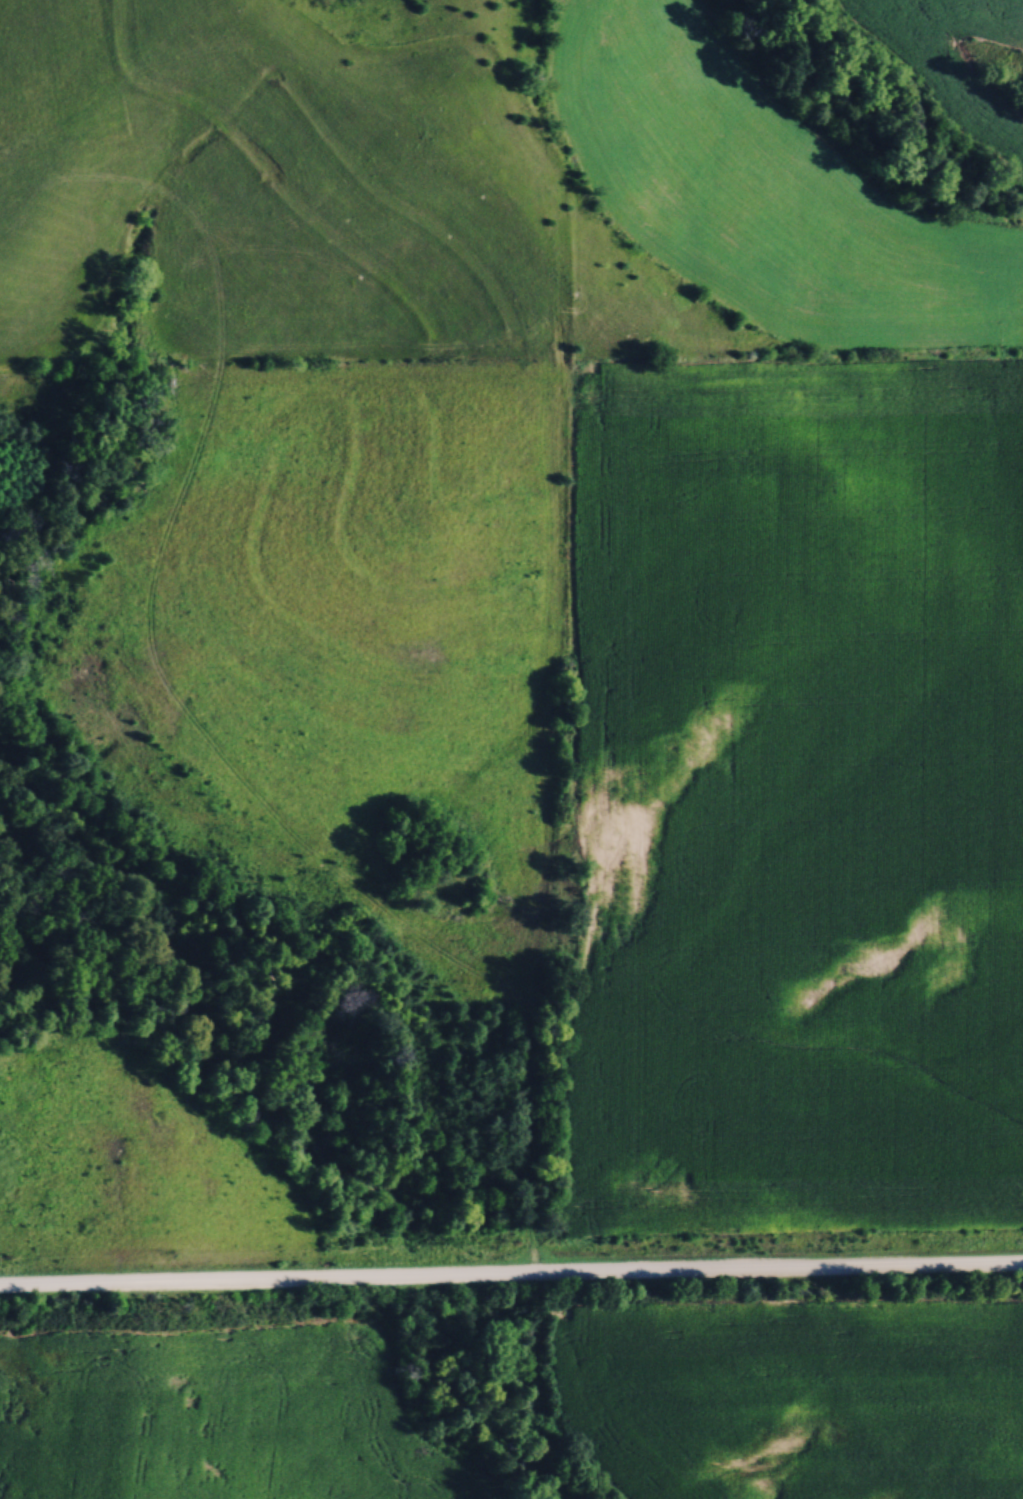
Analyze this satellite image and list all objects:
road: (511, 1275)

